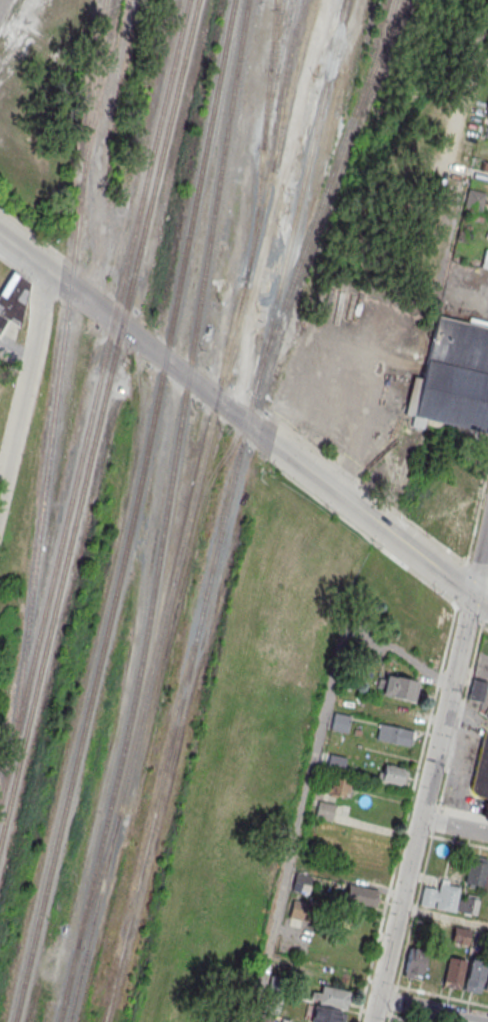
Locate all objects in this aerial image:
railway: (273, 4)
railway: (272, 33)
railway: (380, 37)
road: (477, 47)
railway: (369, 56)
railway: (272, 72)
railway: (282, 83)
railway: (261, 138)
railway: (322, 193)
building: (485, 260)
road: (14, 268)
road: (473, 290)
building: (12, 300)
road: (15, 351)
railway: (59, 376)
building: (455, 376)
road: (26, 381)
railway: (90, 406)
road: (245, 418)
railway: (95, 425)
railway: (191, 510)
railway: (129, 511)
railway: (227, 511)
railway: (165, 512)
building: (459, 535)
building: (391, 585)
traffic signals: (472, 594)
building: (399, 687)
building: (477, 690)
road: (467, 714)
building: (487, 717)
building: (340, 722)
building: (395, 734)
building: (335, 763)
building: (481, 772)
road: (462, 773)
building: (393, 774)
road: (429, 774)
building: (337, 787)
building: (324, 810)
road: (453, 827)
road: (460, 841)
railway: (103, 882)
building: (301, 882)
building: (485, 883)
building: (360, 895)
building: (448, 899)
building: (300, 910)
road: (443, 918)
building: (460, 935)
building: (414, 964)
building: (453, 974)
building: (474, 976)
building: (485, 983)
road: (442, 995)
building: (328, 1005)
road: (433, 1008)
road: (407, 1018)

